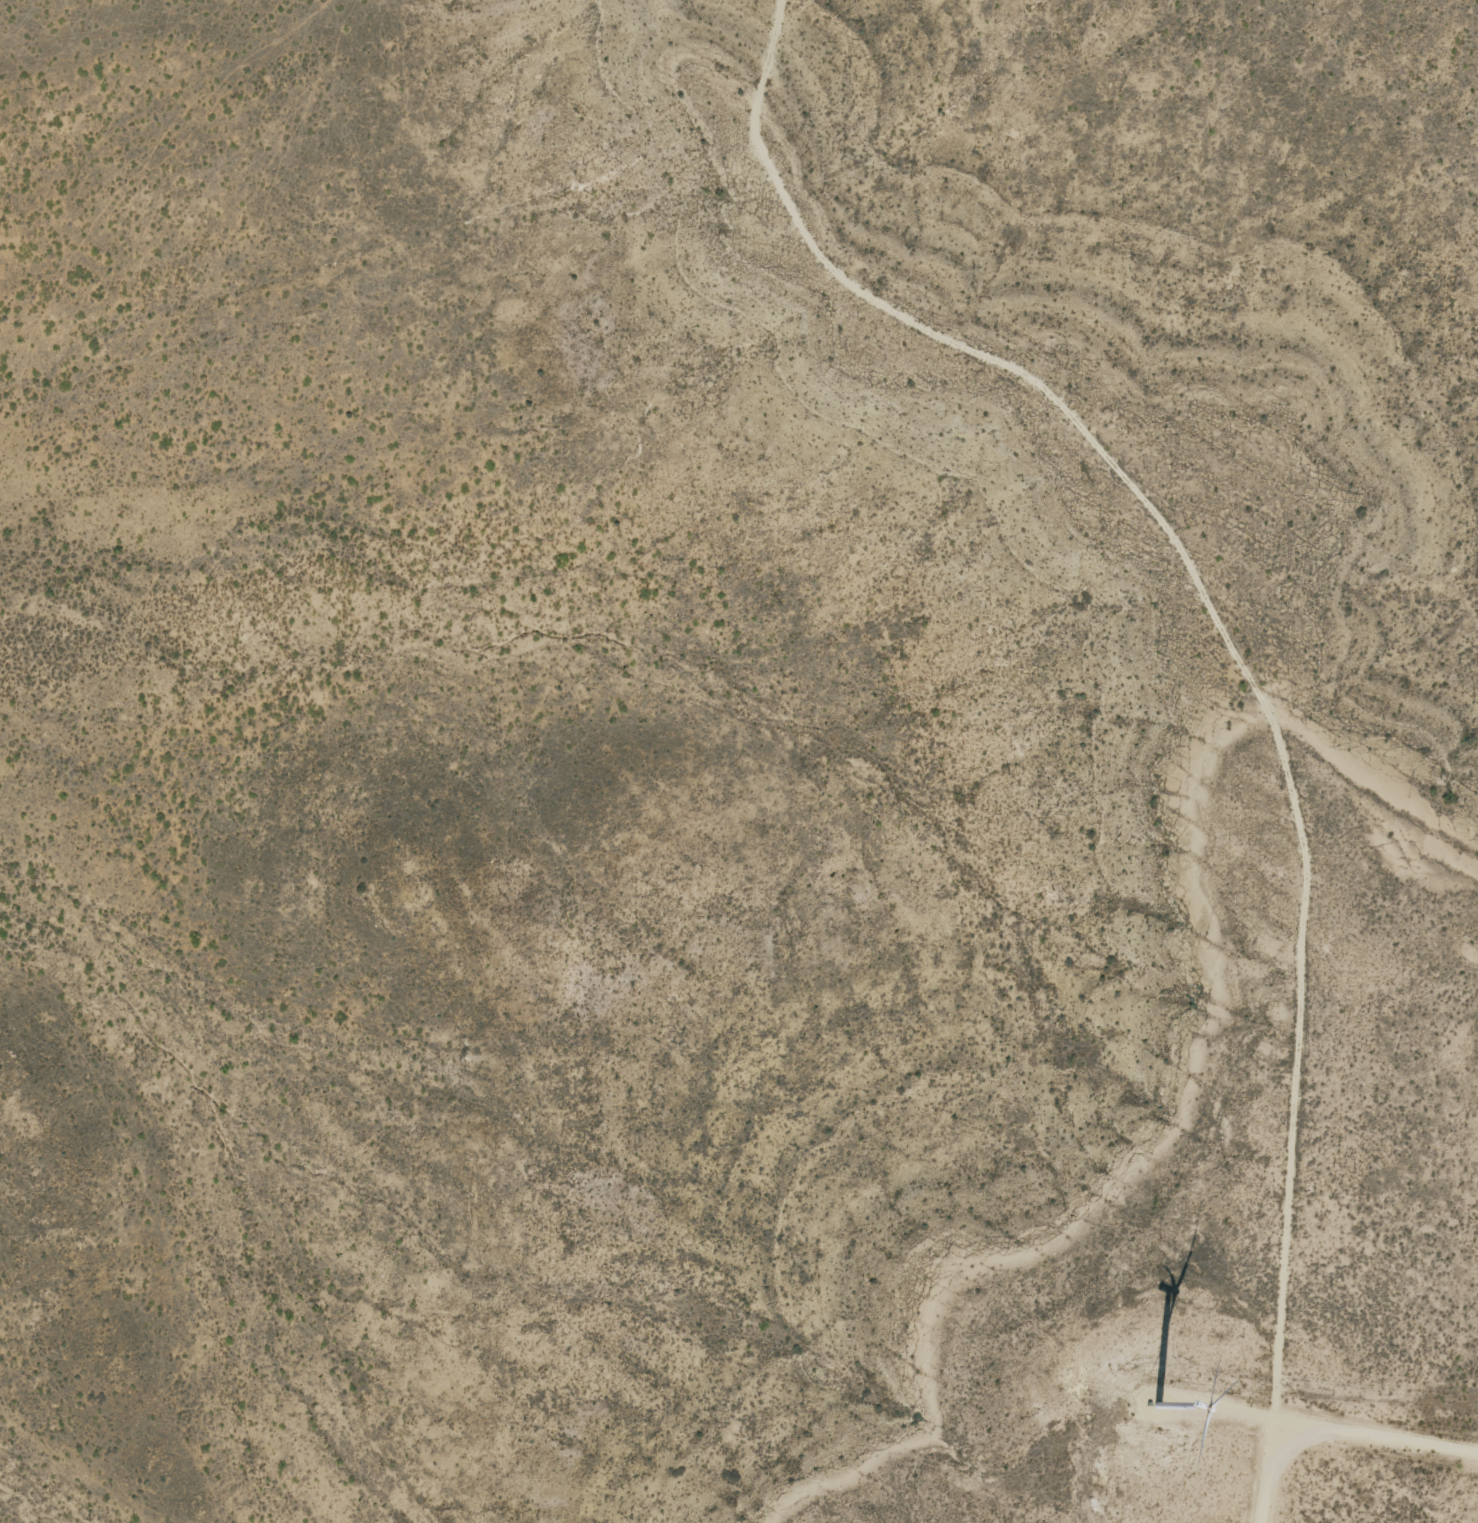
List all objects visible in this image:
wind turbine: (1159, 1400)

